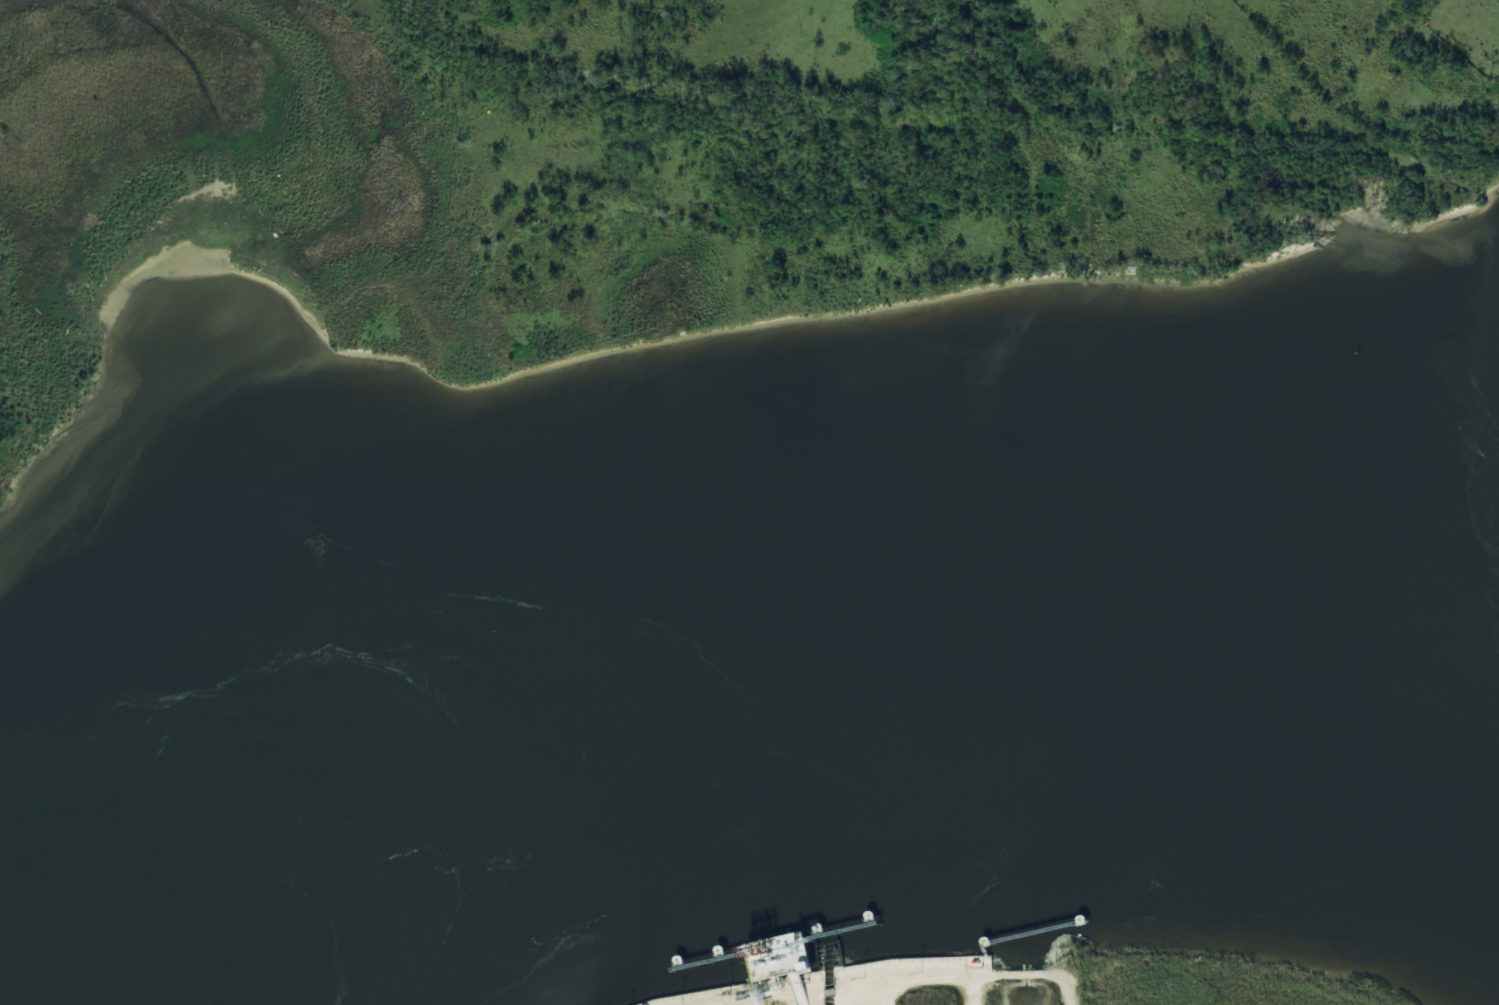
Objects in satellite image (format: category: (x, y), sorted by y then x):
river: (752, 694)
road: (953, 977)
road: (796, 1004)
road: (804, 1004)

